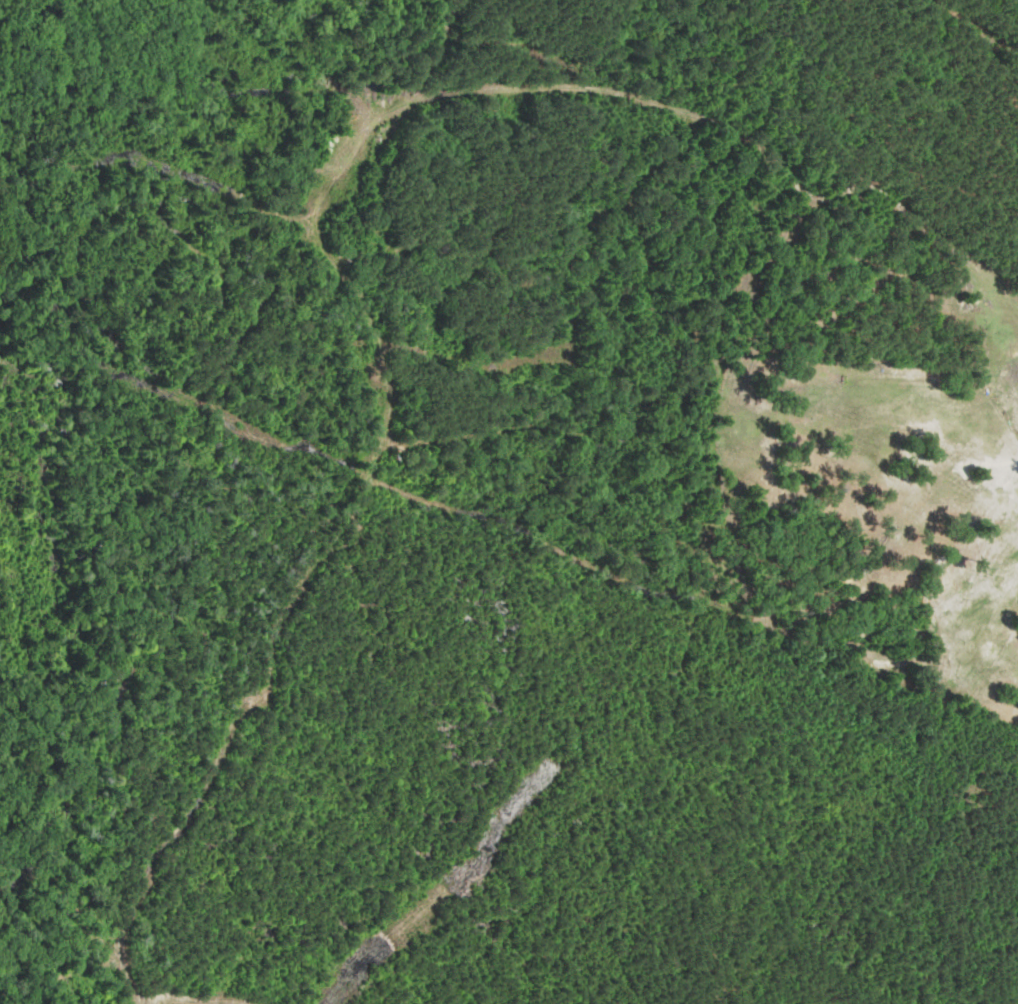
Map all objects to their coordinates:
building: (887, 582)

